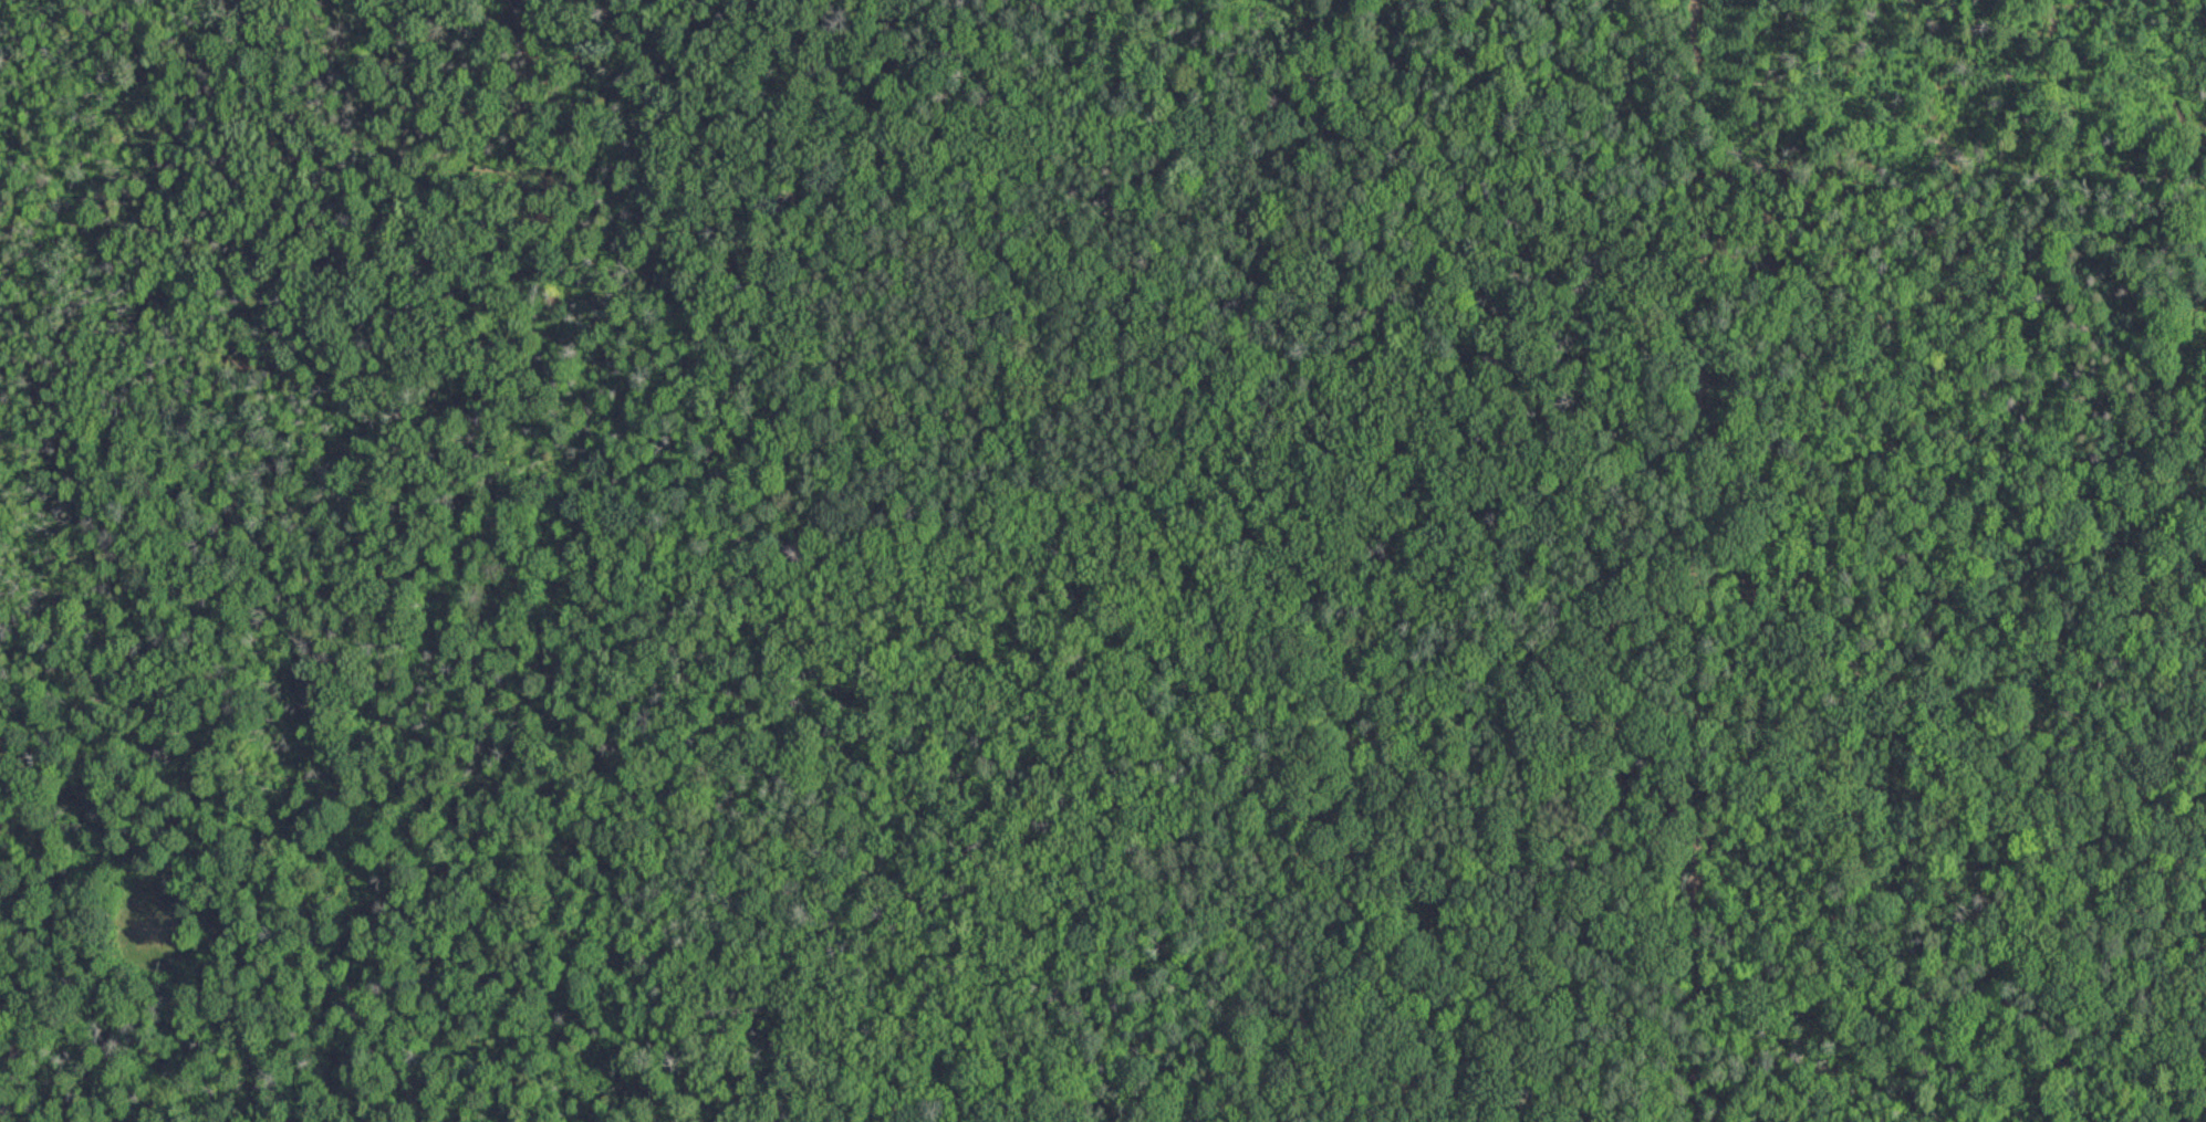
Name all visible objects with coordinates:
road: (1948, 266)
road: (1689, 560)

